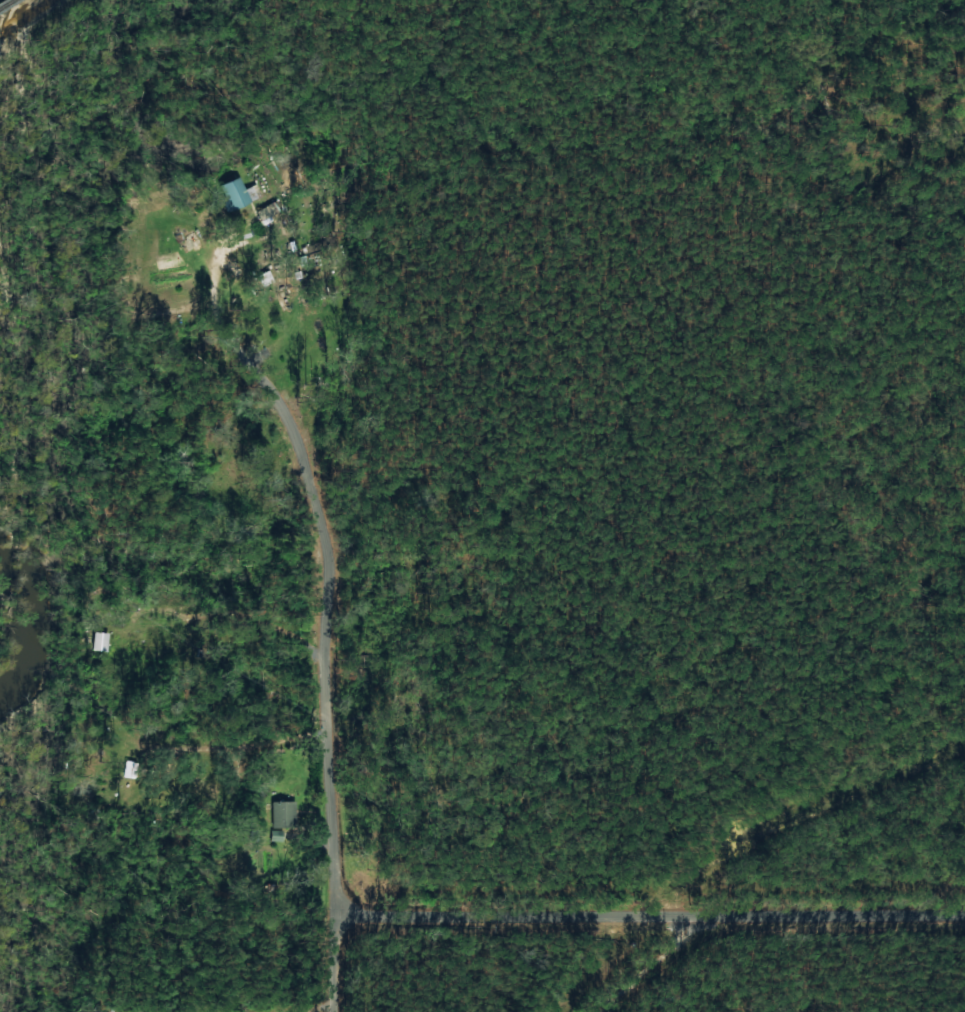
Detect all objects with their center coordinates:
railway: (18, 10)
building: (233, 193)
building: (268, 212)
building: (99, 640)
road: (335, 676)
building: (281, 813)
road: (651, 911)

